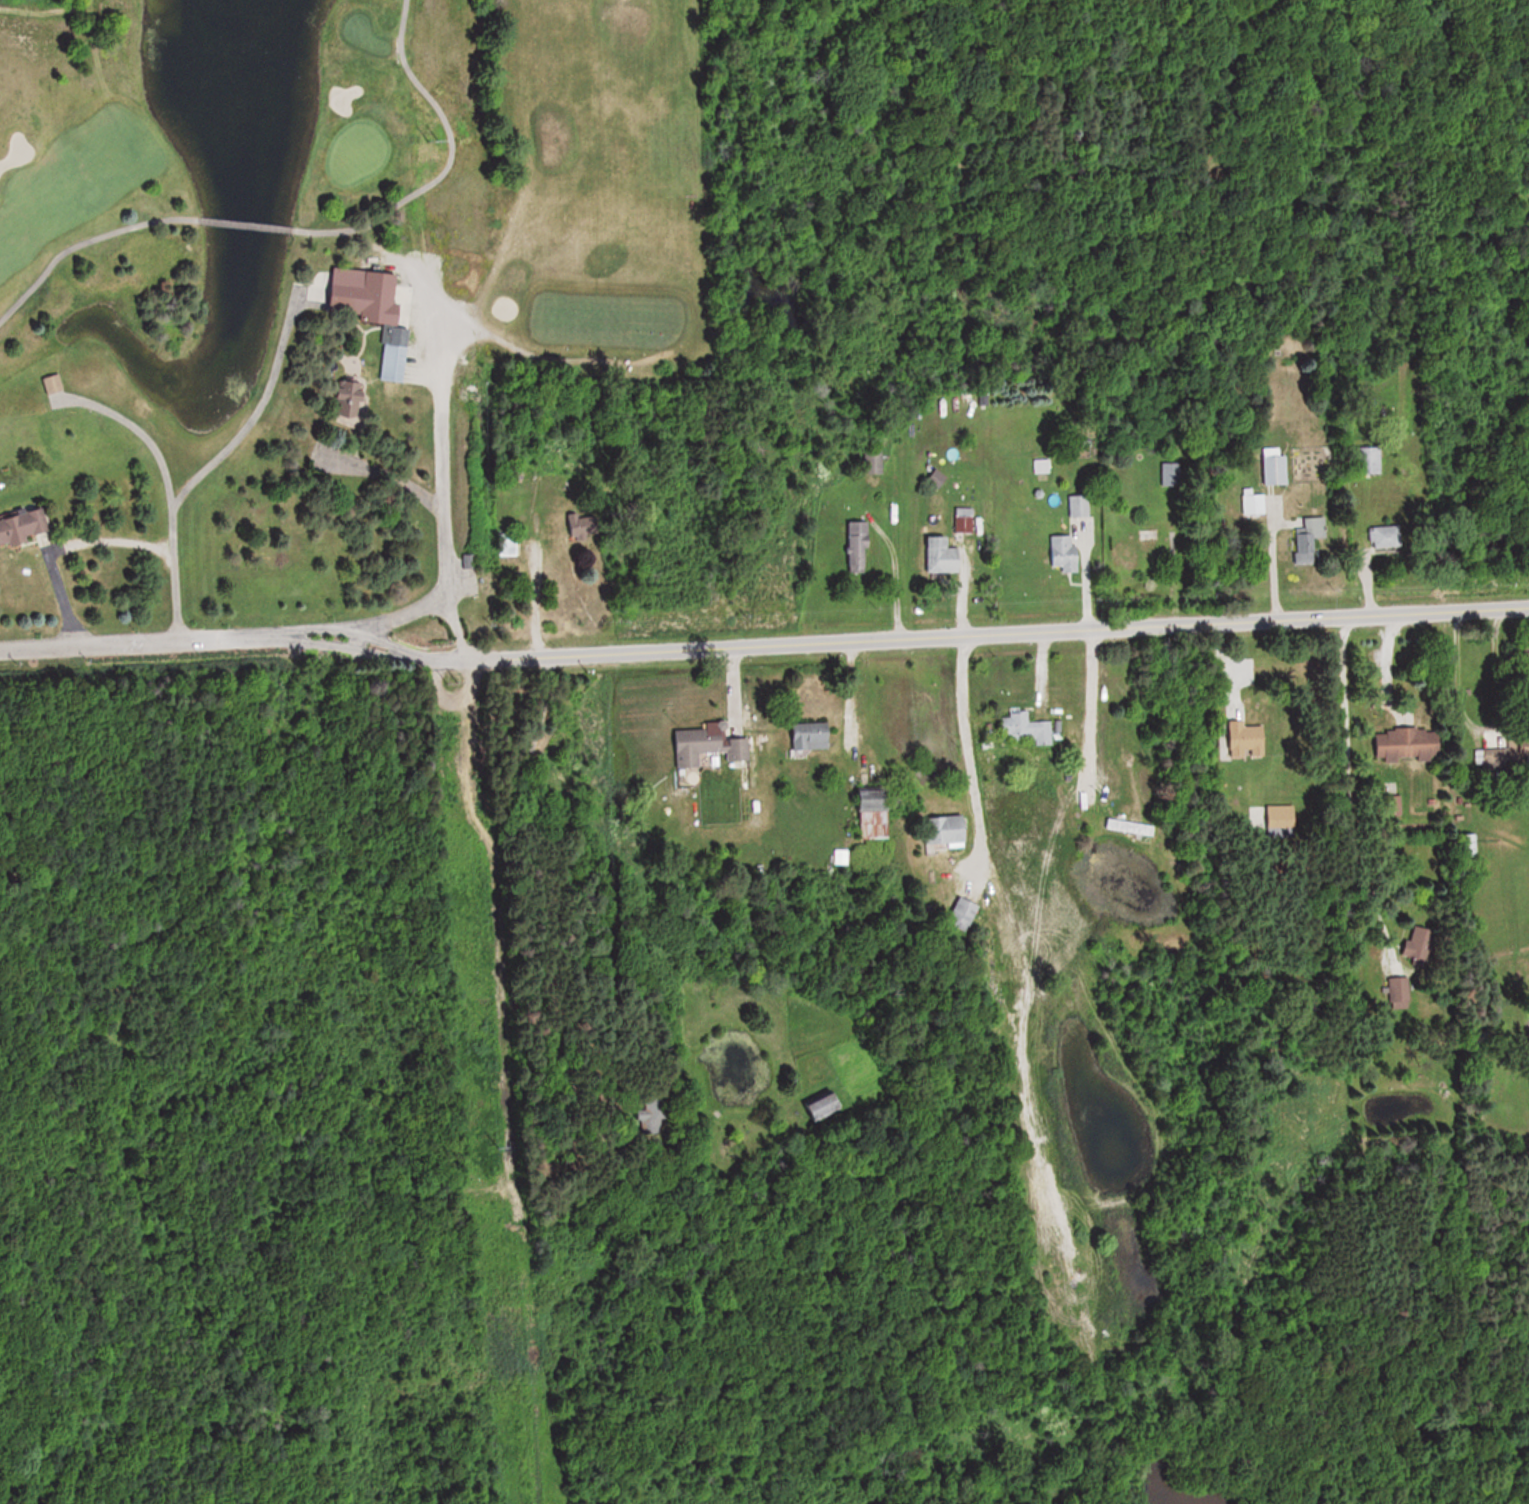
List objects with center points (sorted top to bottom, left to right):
power tower: (436, 132)
park: (356, 153)
road: (450, 159)
road: (82, 242)
building: (351, 302)
park: (239, 331)
building: (55, 381)
building: (348, 397)
road: (255, 412)
road: (151, 442)
building: (875, 460)
building: (1369, 460)
building: (1041, 466)
building: (1277, 466)
road: (445, 491)
building: (1253, 502)
building: (1079, 505)
building: (964, 519)
building: (23, 524)
building: (583, 525)
road: (442, 527)
building: (1311, 534)
building: (1384, 536)
road: (107, 541)
building: (507, 544)
building: (859, 546)
building: (1064, 550)
building: (943, 555)
road: (894, 585)
road: (536, 596)
road: (763, 644)
building: (1526, 659)
power tower: (445, 681)
road: (1090, 709)
building: (1028, 728)
road: (1485, 734)
road: (967, 735)
building: (814, 736)
building: (1409, 743)
building: (708, 746)
building: (875, 814)
building: (1134, 829)
building: (947, 830)
building: (966, 911)
building: (1399, 992)
park: (255, 1085)
building: (822, 1103)
building: (650, 1111)
power tower: (496, 1144)

